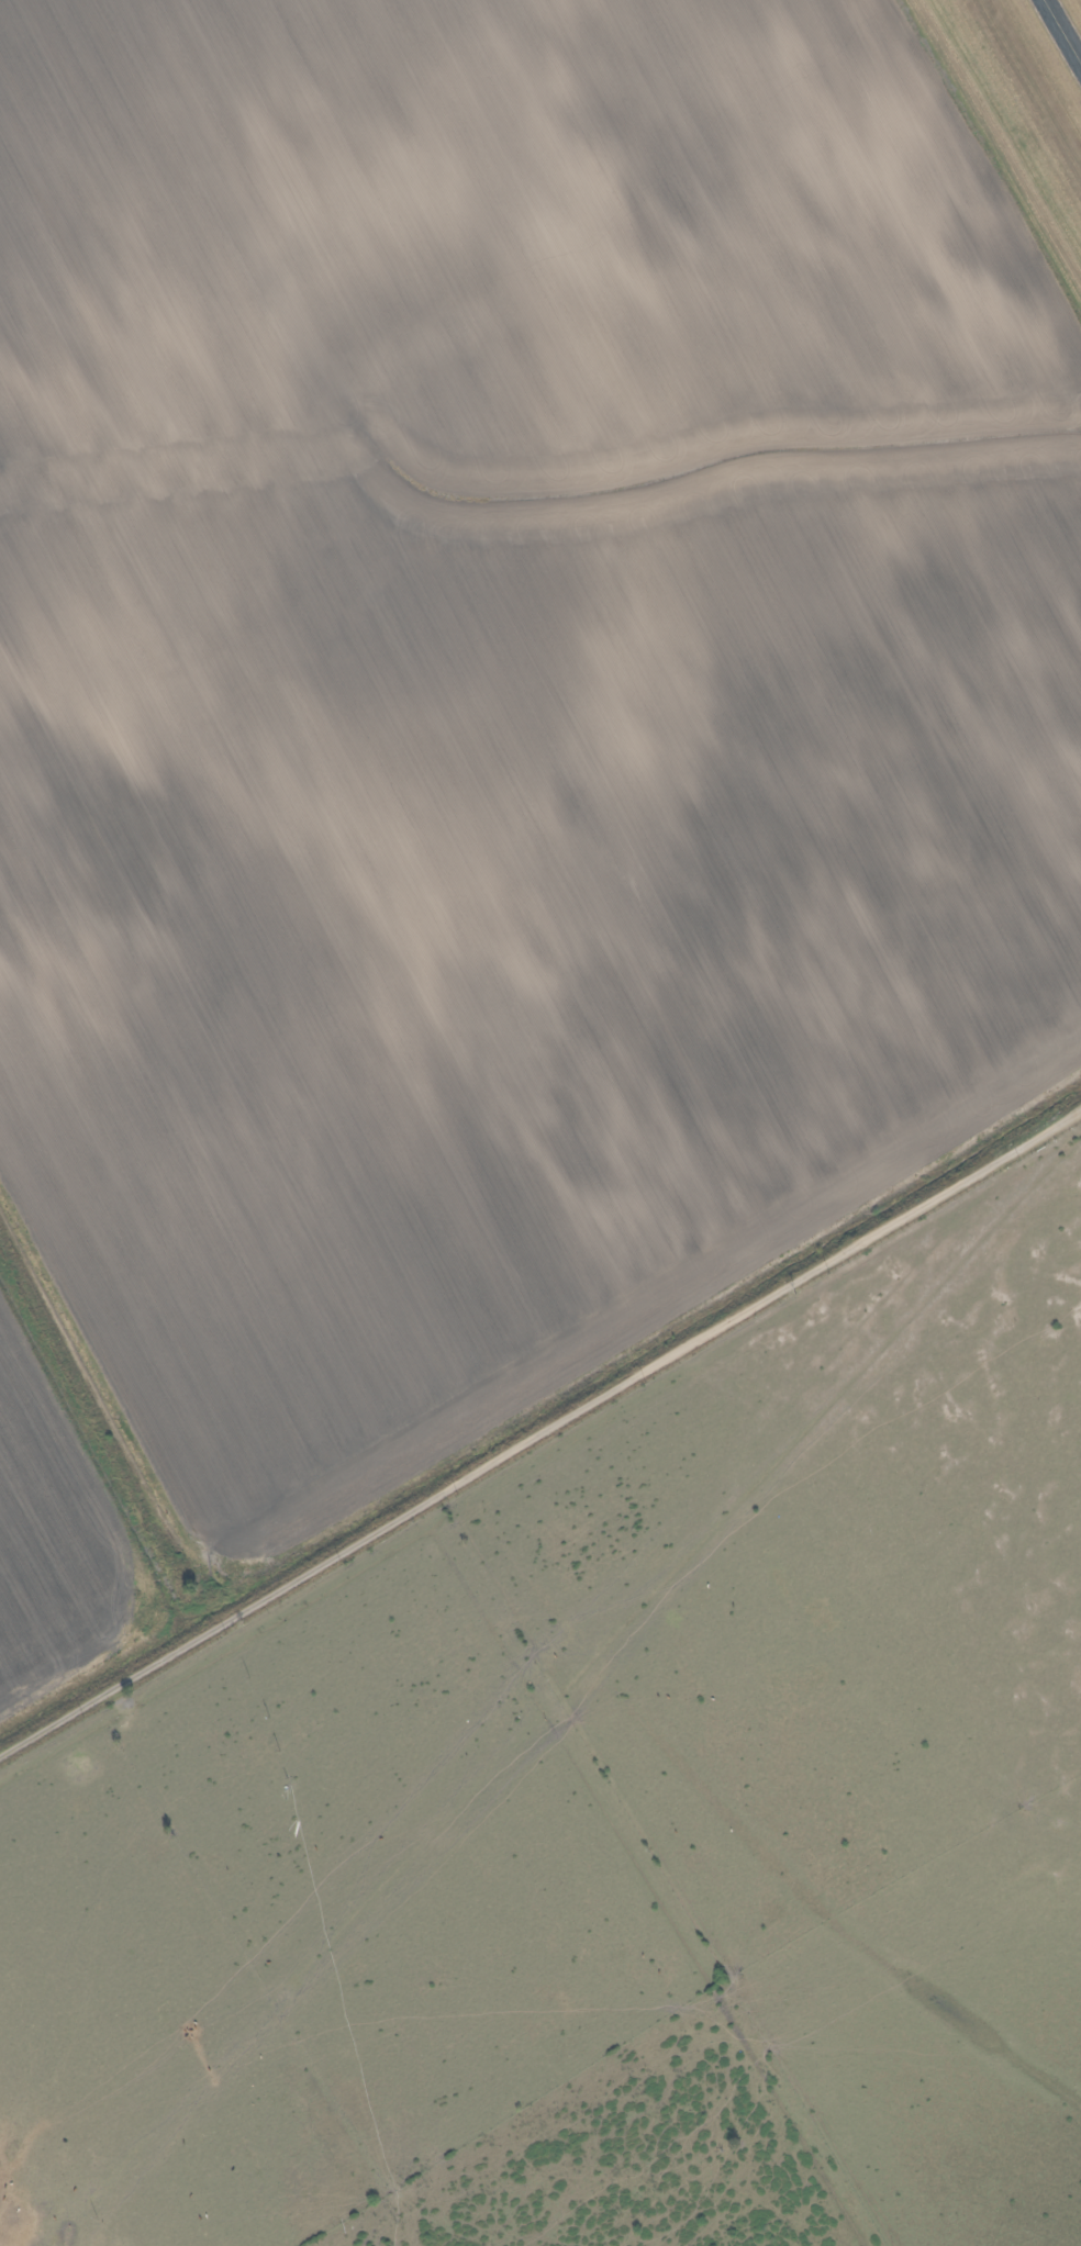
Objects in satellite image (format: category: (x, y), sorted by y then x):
airport taxiway: (1061, 32)
airport: (1012, 119)

